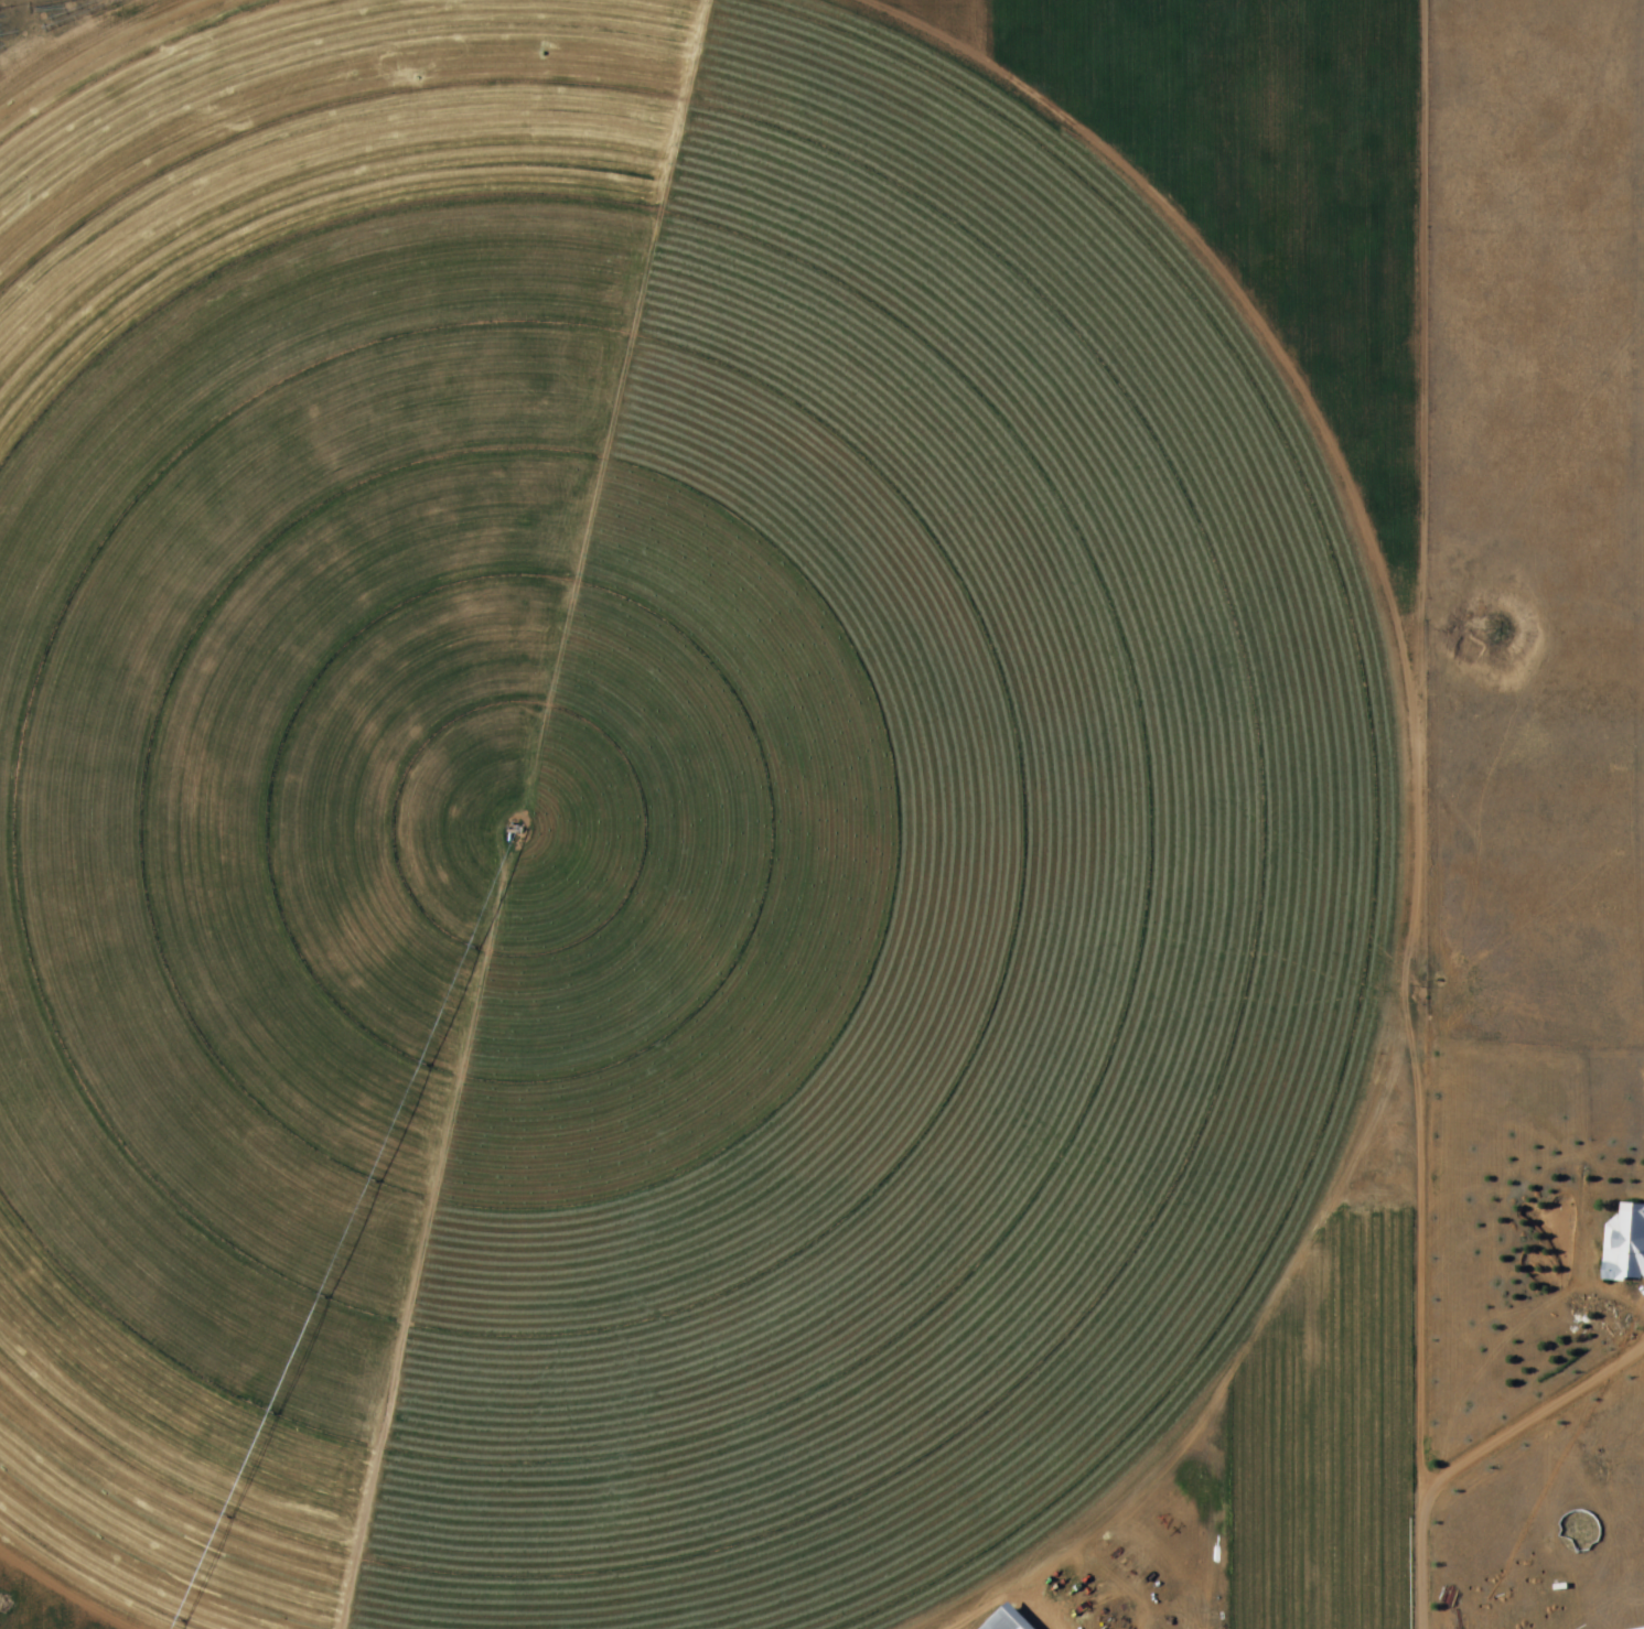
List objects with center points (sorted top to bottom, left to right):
building: (1624, 1245)
road: (1540, 1411)
building: (1010, 1620)

